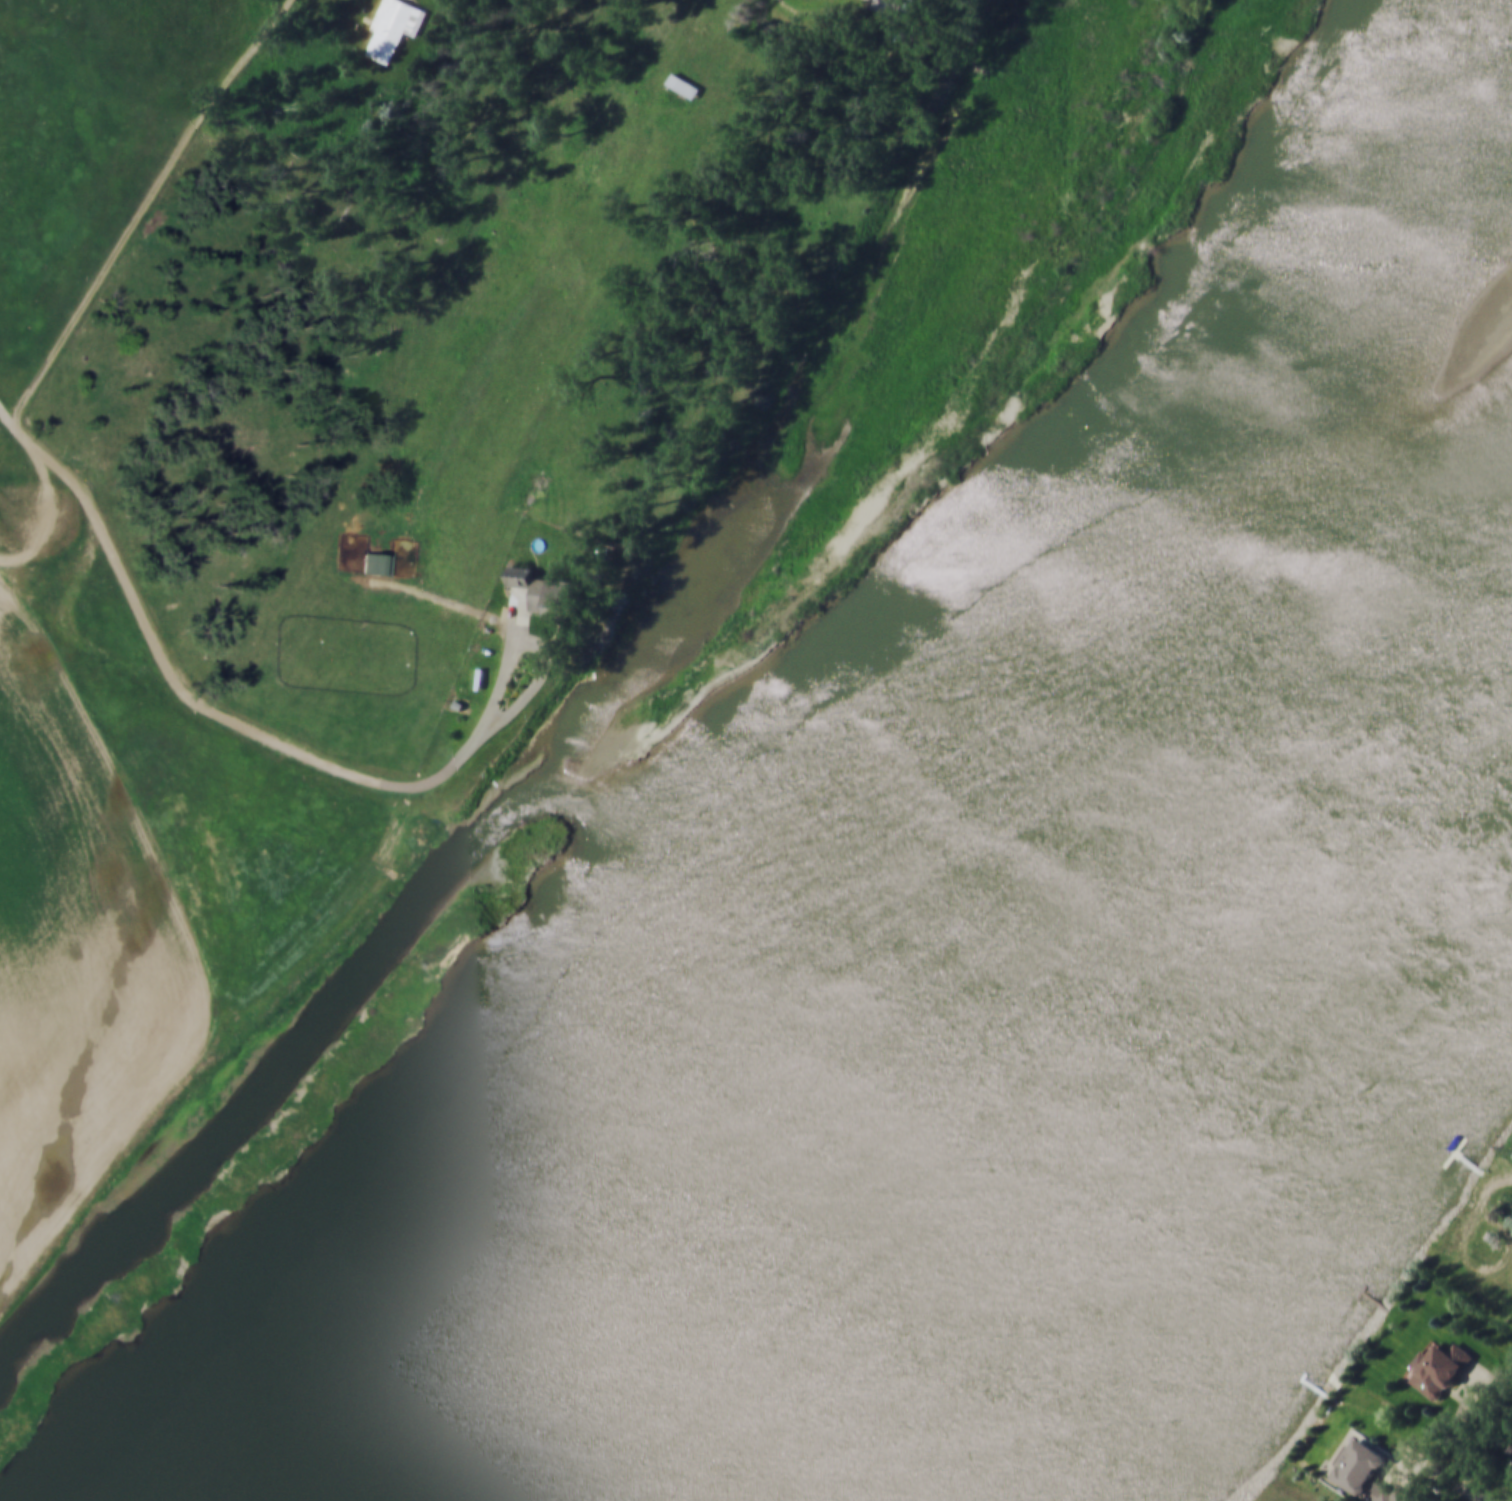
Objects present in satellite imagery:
building: (893, 7)
road: (815, 10)
building: (394, 27)
building: (683, 84)
road: (142, 207)
building: (376, 562)
building: (544, 592)
road: (122, 662)
river: (1267, 1176)
road: (1510, 1179)
building: (1439, 1371)
road: (1454, 1426)
building: (1510, 1450)
road: (1429, 1468)
building: (1358, 1470)
building: (1386, 1494)

